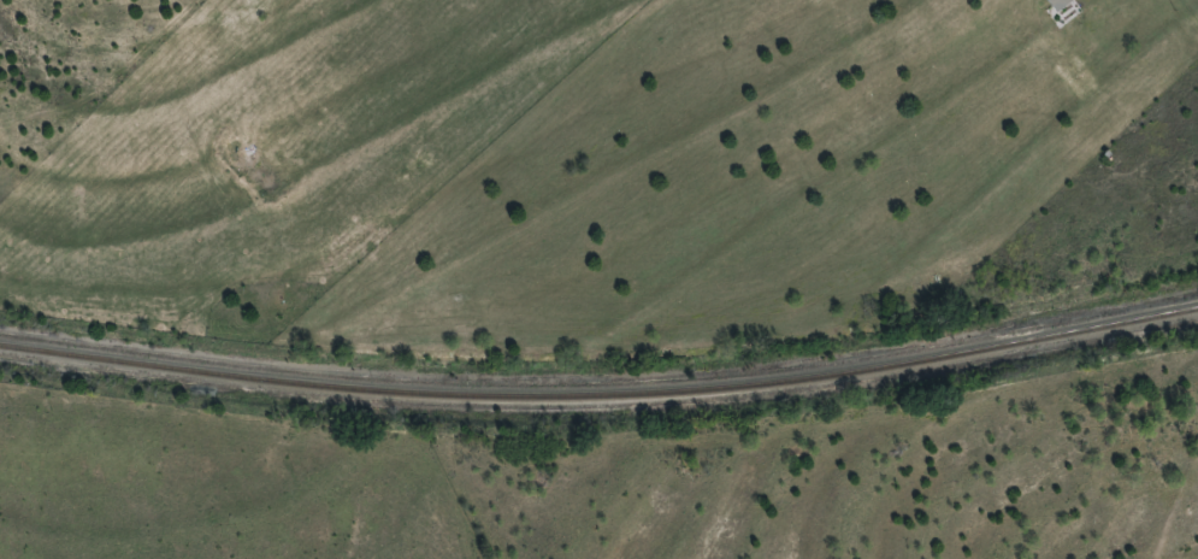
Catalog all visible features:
building: (1052, 0)
railway: (601, 395)

